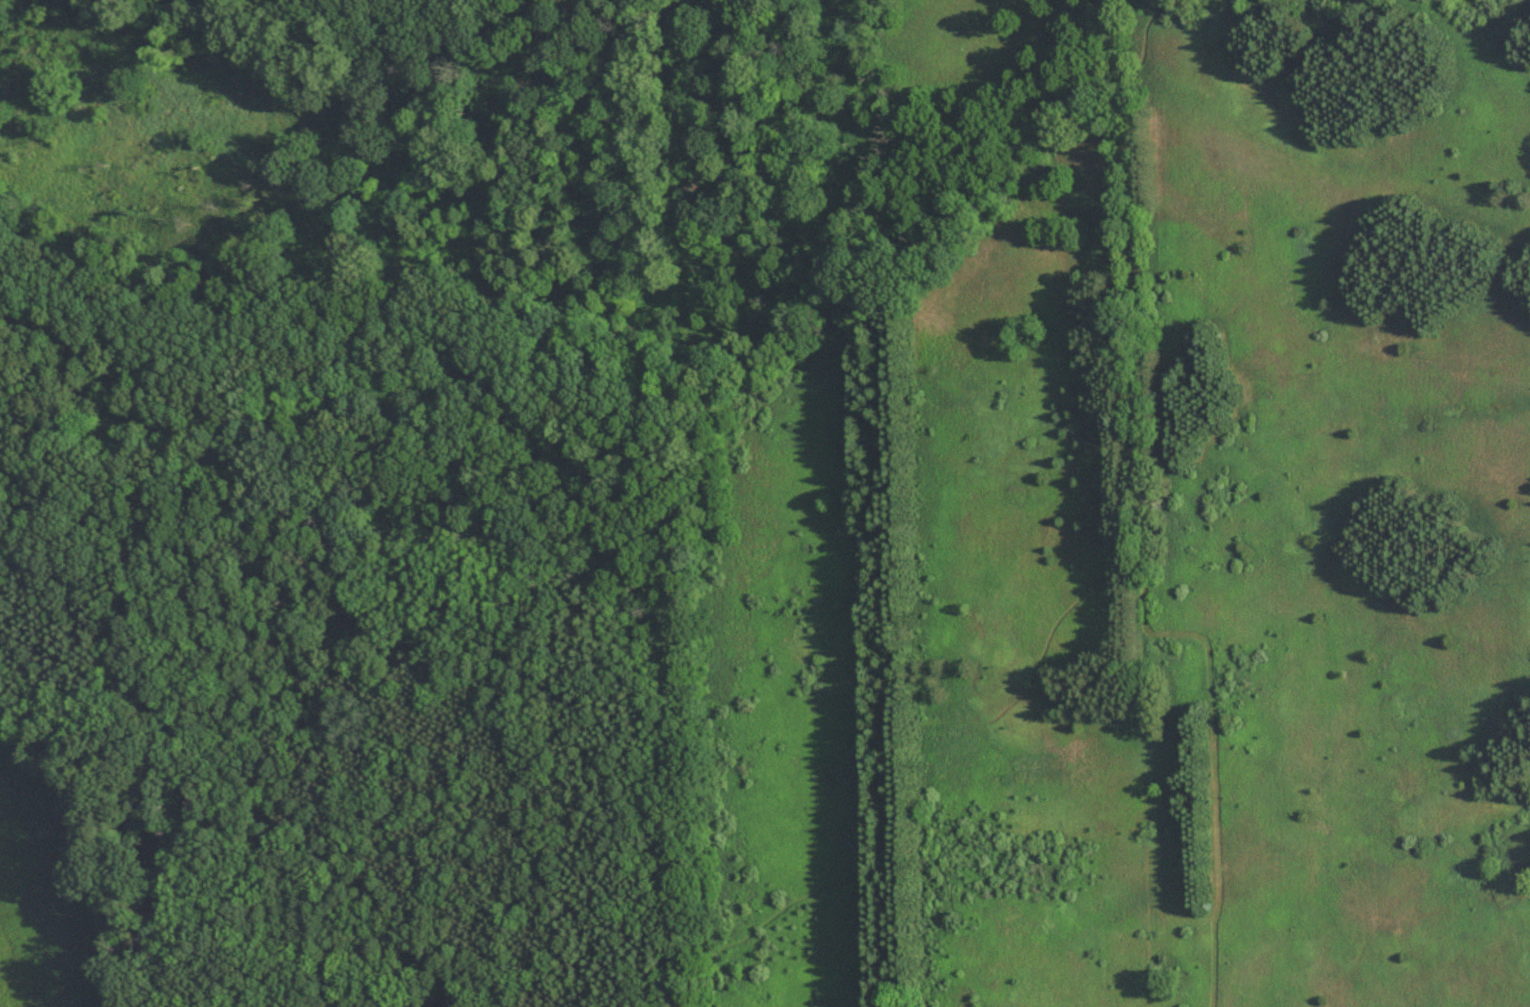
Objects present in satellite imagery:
road: (384, 947)

